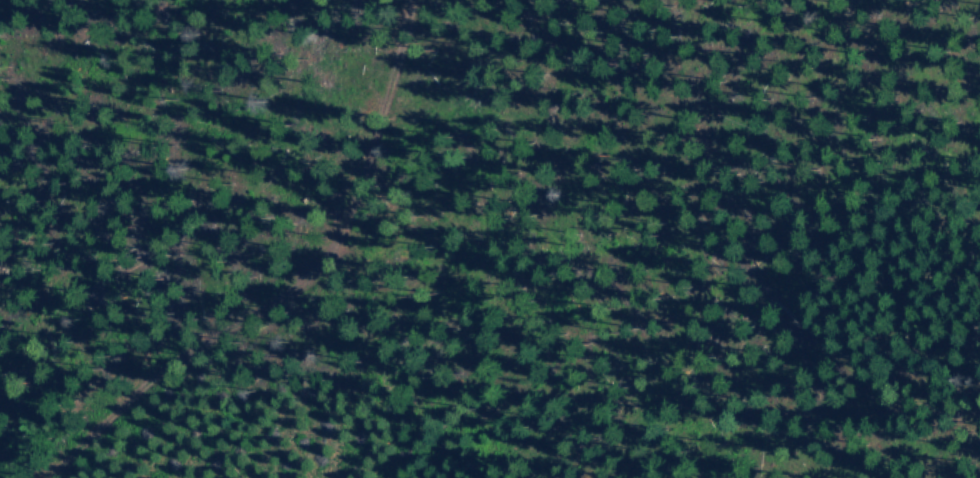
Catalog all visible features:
road: (296, 282)

